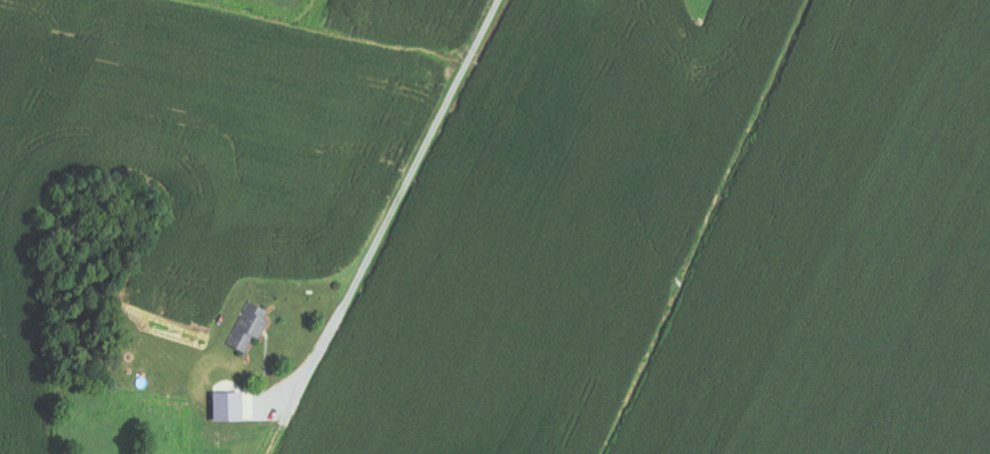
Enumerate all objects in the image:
road: (407, 187)
building: (250, 328)
building: (228, 408)

